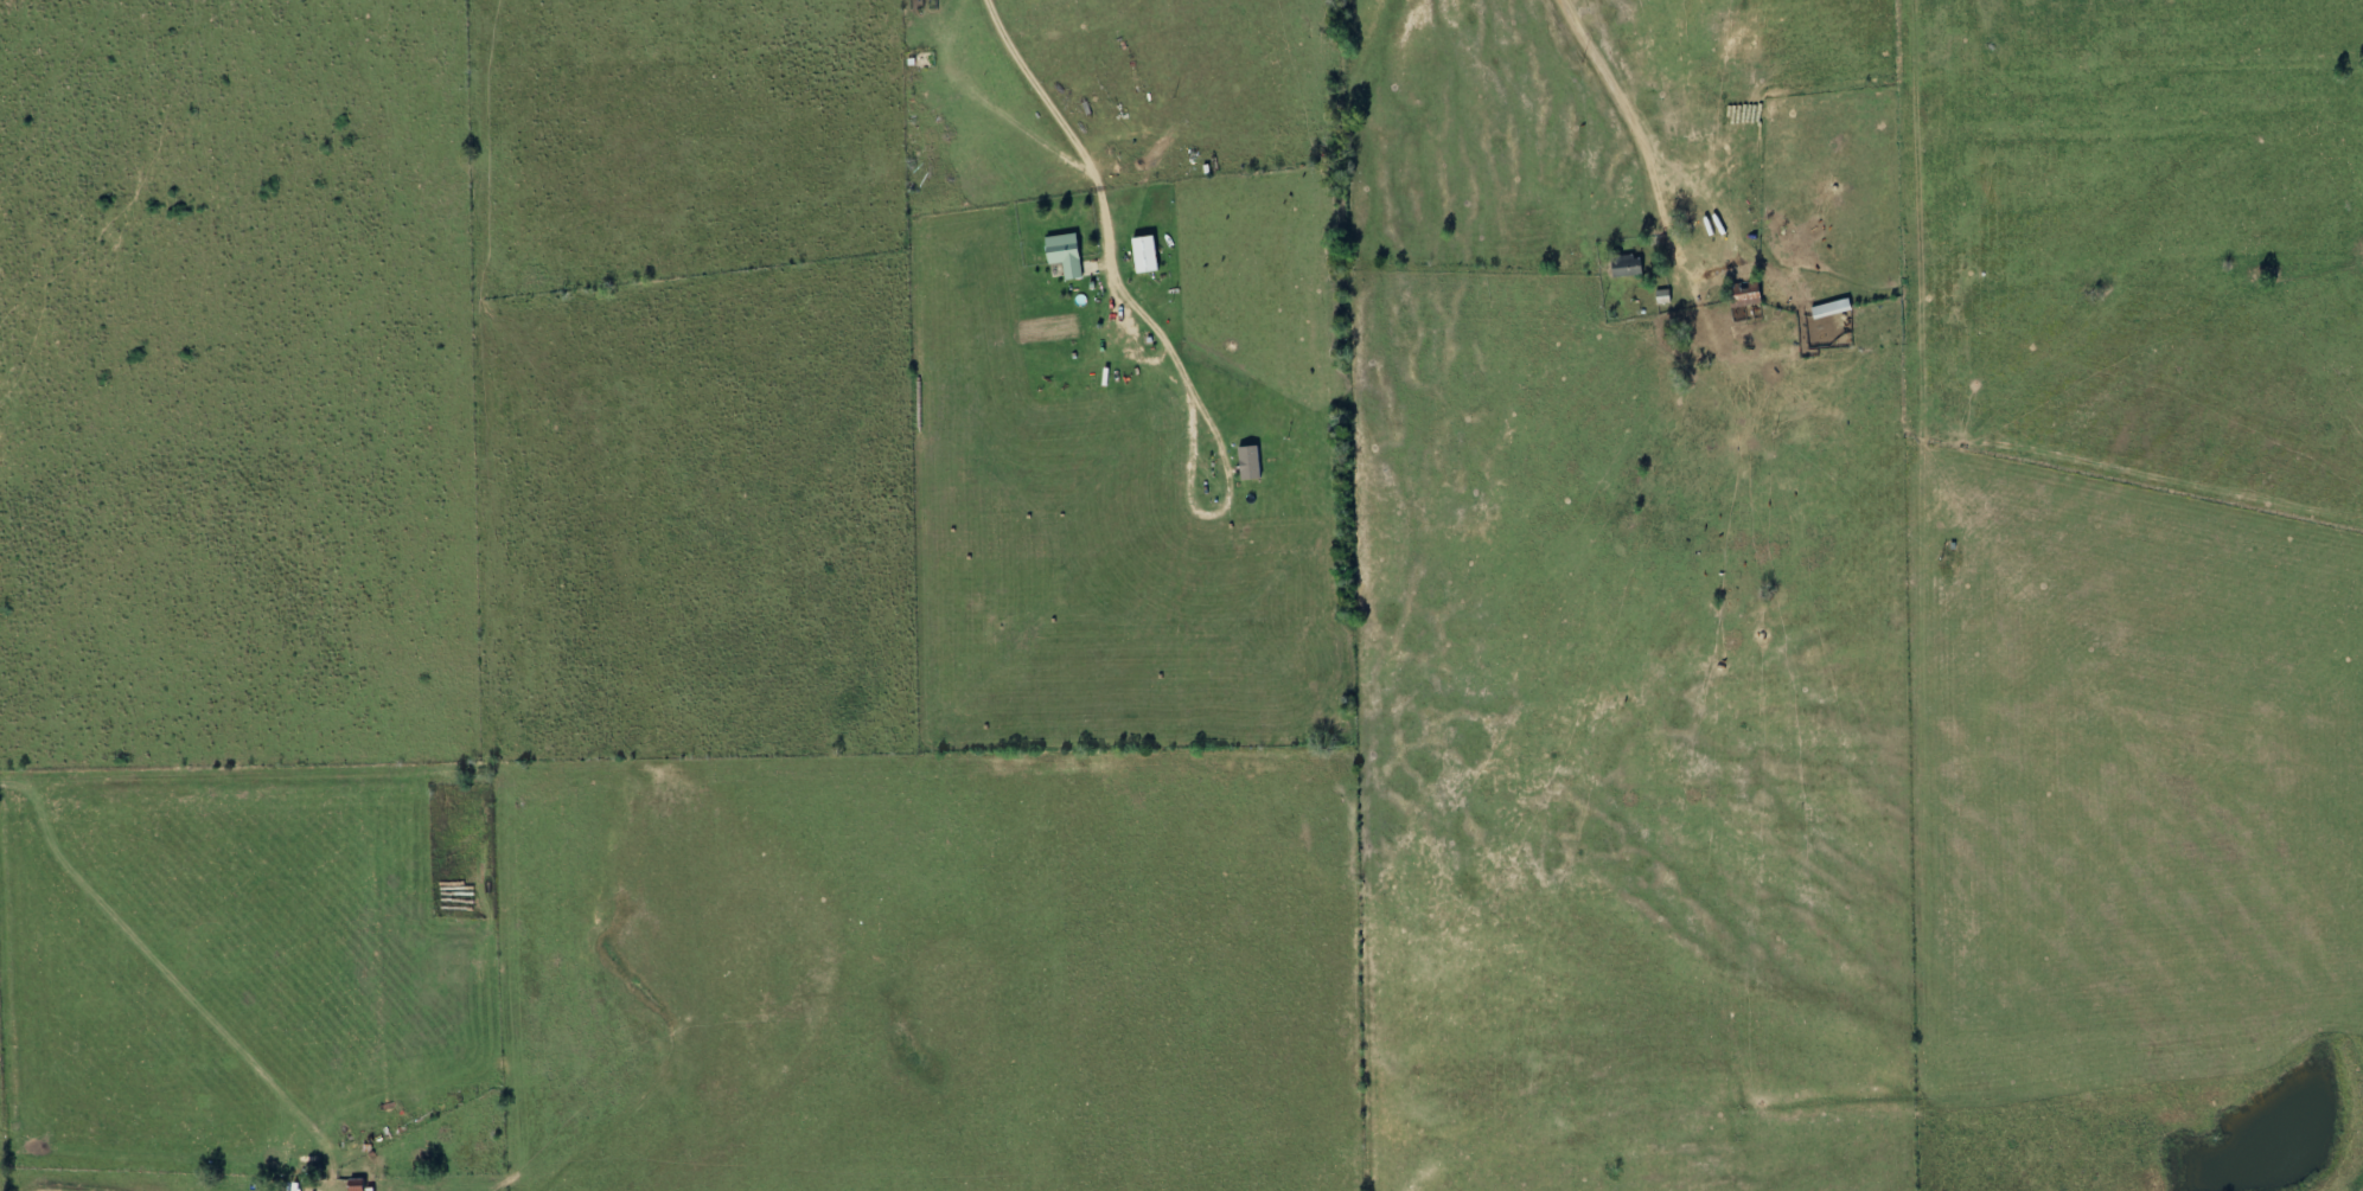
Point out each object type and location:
road: (1032, 90)
building: (1067, 255)
building: (1148, 255)
building: (1629, 265)
road: (1896, 306)
building: (1833, 309)
road: (157, 961)
road: (6, 999)
building: (357, 1185)

